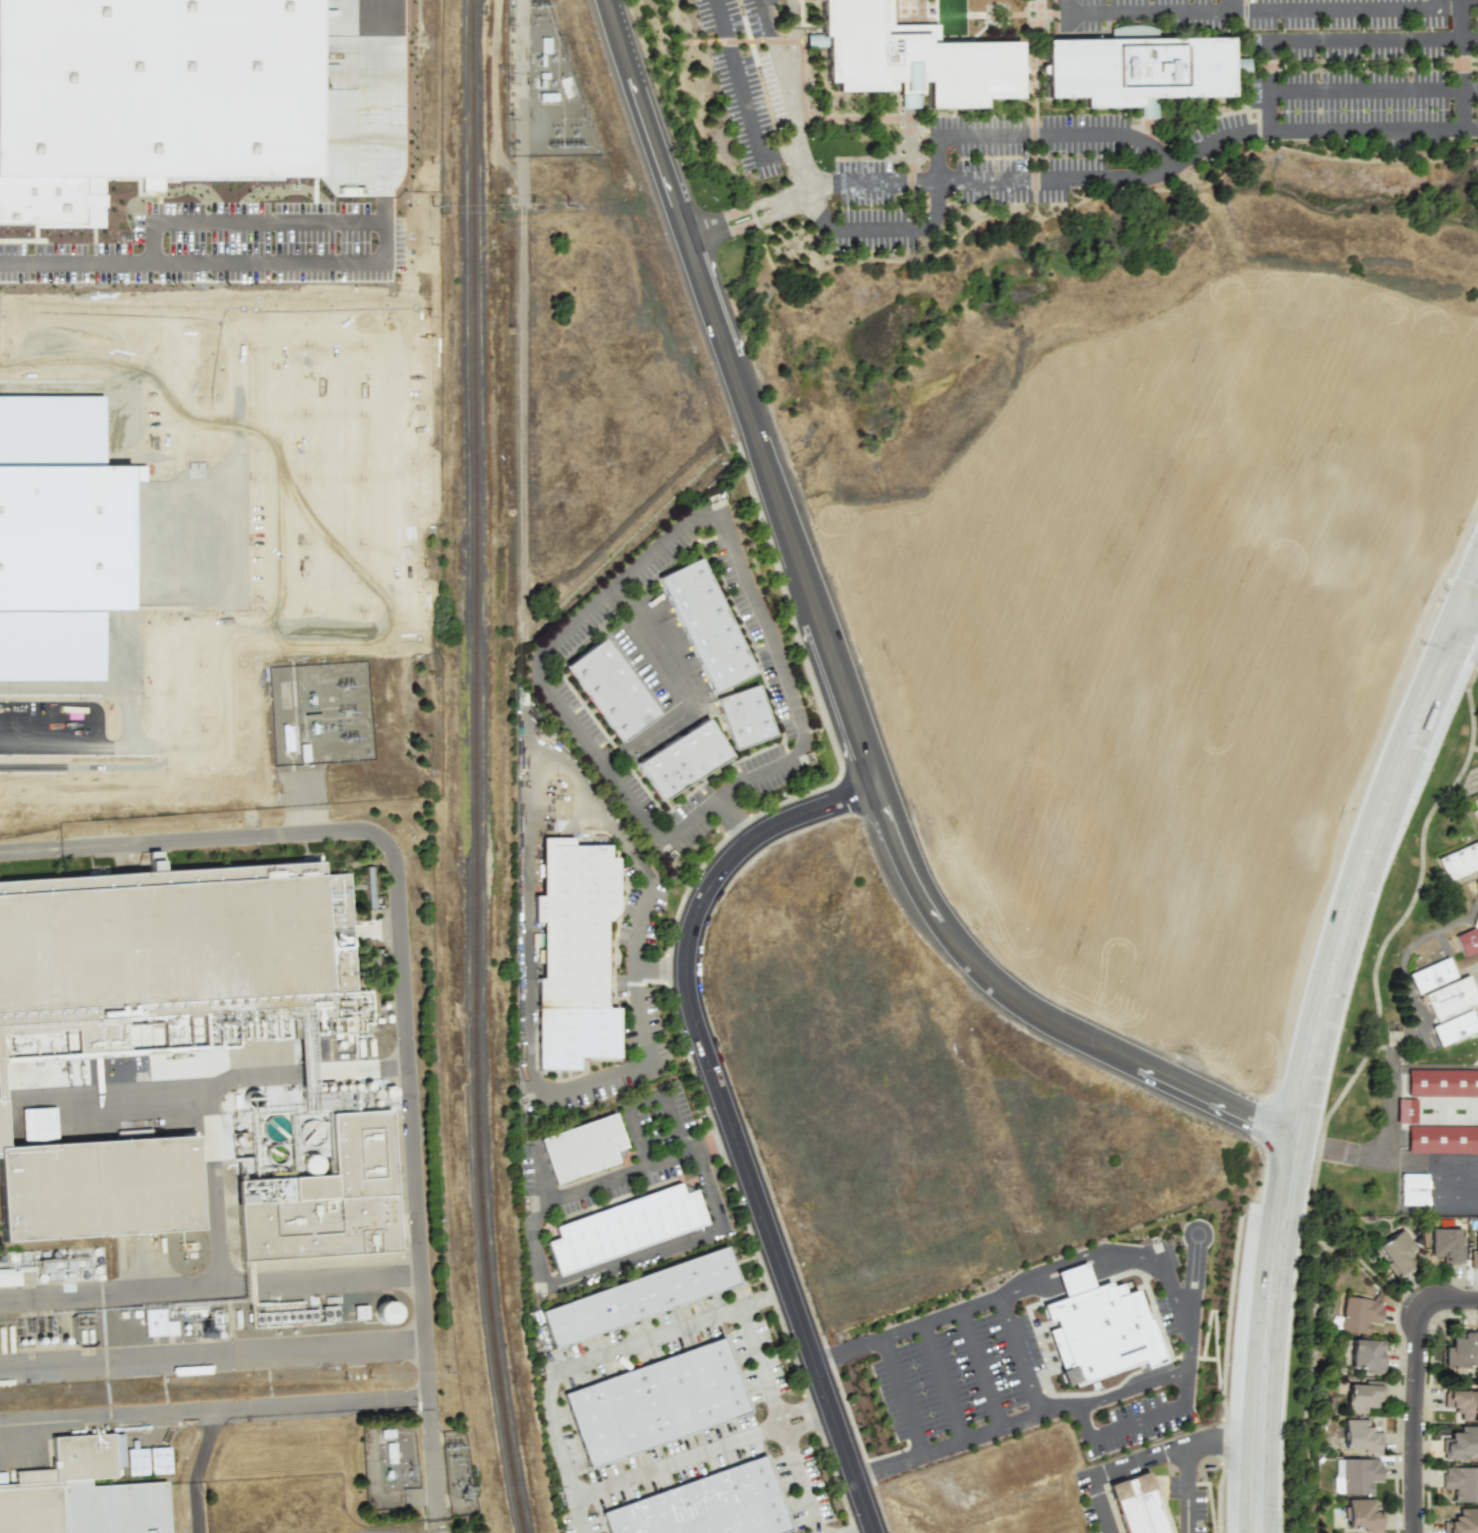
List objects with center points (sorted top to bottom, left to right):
building: (809, 0)
road: (1001, 6)
road: (1235, 6)
power tower: (542, 7)
road: (1044, 7)
road: (1035, 10)
road: (1452, 10)
road: (1256, 11)
road: (974, 16)
road: (1248, 16)
road: (757, 42)
road: (1329, 42)
street lamp: (658, 54)
road: (781, 57)
road: (797, 57)
road: (1035, 57)
building: (916, 58)
road: (1465, 64)
road: (1355, 66)
building: (1138, 70)
road: (1249, 81)
power substation: (545, 88)
road: (1374, 91)
road: (745, 96)
building: (153, 102)
road: (524, 104)
road: (382, 111)
road: (1218, 117)
road: (855, 119)
road: (1151, 121)
road: (1142, 127)
road: (946, 136)
power tower: (560, 147)
power tower: (577, 147)
road: (1037, 147)
road: (799, 156)
road: (888, 159)
road: (913, 163)
road: (1083, 180)
street lamp: (706, 192)
road: (1036, 213)
road: (1042, 217)
road: (251, 222)
road: (981, 222)
road: (948, 233)
road: (383, 241)
road: (191, 260)
road: (87, 313)
road: (279, 332)
road: (132, 336)
road: (66, 357)
road: (77, 387)
road: (525, 421)
road: (227, 423)
road: (278, 478)
road: (391, 478)
building: (58, 531)
road: (333, 558)
road: (625, 579)
street lamp: (1446, 587)
road: (1471, 606)
road: (1472, 624)
building: (708, 626)
traffic signals: (1457, 643)
street lamp: (1419, 647)
road: (836, 660)
road: (90, 685)
power tower: (346, 687)
building: (613, 688)
road: (683, 691)
road: (225, 711)
power tower: (348, 714)
power substation: (321, 715)
building: (748, 718)
power tower: (350, 740)
road: (87, 748)
street lamp: (827, 751)
building: (686, 760)
road: (151, 764)
railway: (472, 768)
road: (306, 791)
building: (1476, 802)
street lamp: (758, 809)
street lamp: (1342, 811)
street lamp: (859, 821)
building: (1458, 861)
road: (527, 878)
building: (1477, 878)
street lamp: (688, 887)
building: (578, 925)
building: (1468, 938)
building: (173, 942)
street lamp: (1375, 944)
building: (1430, 975)
road: (406, 995)
street lamp: (670, 997)
building: (1449, 998)
building: (1453, 1028)
road: (1424, 1031)
road: (1307, 1065)
road: (363, 1069)
road: (311, 1072)
road: (254, 1075)
building: (1441, 1082)
road: (207, 1097)
road: (644, 1099)
street lamp: (706, 1109)
building: (1405, 1111)
road: (728, 1117)
building: (38, 1123)
building: (1441, 1139)
building: (585, 1150)
road: (1340, 1151)
street lamp: (1324, 1163)
street lamp: (1261, 1176)
building: (98, 1186)
building: (1412, 1189)
building: (330, 1198)
street lamp: (778, 1205)
building: (626, 1230)
building: (1447, 1244)
building: (1396, 1252)
building: (1474, 1254)
road: (1129, 1255)
road: (1373, 1272)
road: (541, 1280)
road: (210, 1286)
building: (638, 1297)
street lamp: (1398, 1306)
building: (359, 1312)
building: (385, 1312)
building: (1358, 1314)
building: (157, 1323)
building: (1098, 1324)
road: (907, 1328)
street lamp: (781, 1334)
road: (1317, 1341)
building: (1460, 1350)
road: (212, 1351)
building: (1366, 1355)
road: (1019, 1357)
street lamp: (1227, 1365)
road: (978, 1371)
street lamp: (1403, 1381)
road: (943, 1383)
road: (1131, 1387)
road: (1417, 1390)
street lamp: (1299, 1391)
building: (1362, 1396)
road: (902, 1397)
building: (654, 1402)
building: (1462, 1403)
road: (213, 1409)
road: (1048, 1414)
road: (776, 1419)
street lamp: (859, 1426)
building: (1360, 1436)
road: (1222, 1442)
building: (1460, 1443)
road: (562, 1446)
power tower: (453, 1449)
building: (159, 1460)
building: (136, 1461)
power substation: (389, 1464)
road: (196, 1469)
power tower: (467, 1470)
road: (1112, 1472)
power tower: (409, 1474)
power substation: (458, 1474)
building: (1355, 1475)
building: (2, 1478)
building: (1461, 1483)
road: (1188, 1490)
power tower: (465, 1493)
building: (83, 1494)
building: (704, 1505)
building: (1138, 1505)
street lamp: (1430, 1507)
road: (577, 1515)
building: (1362, 1515)
street lamp: (849, 1516)
building: (1462, 1522)
street lamp: (1221, 1528)
road: (864, 1530)

